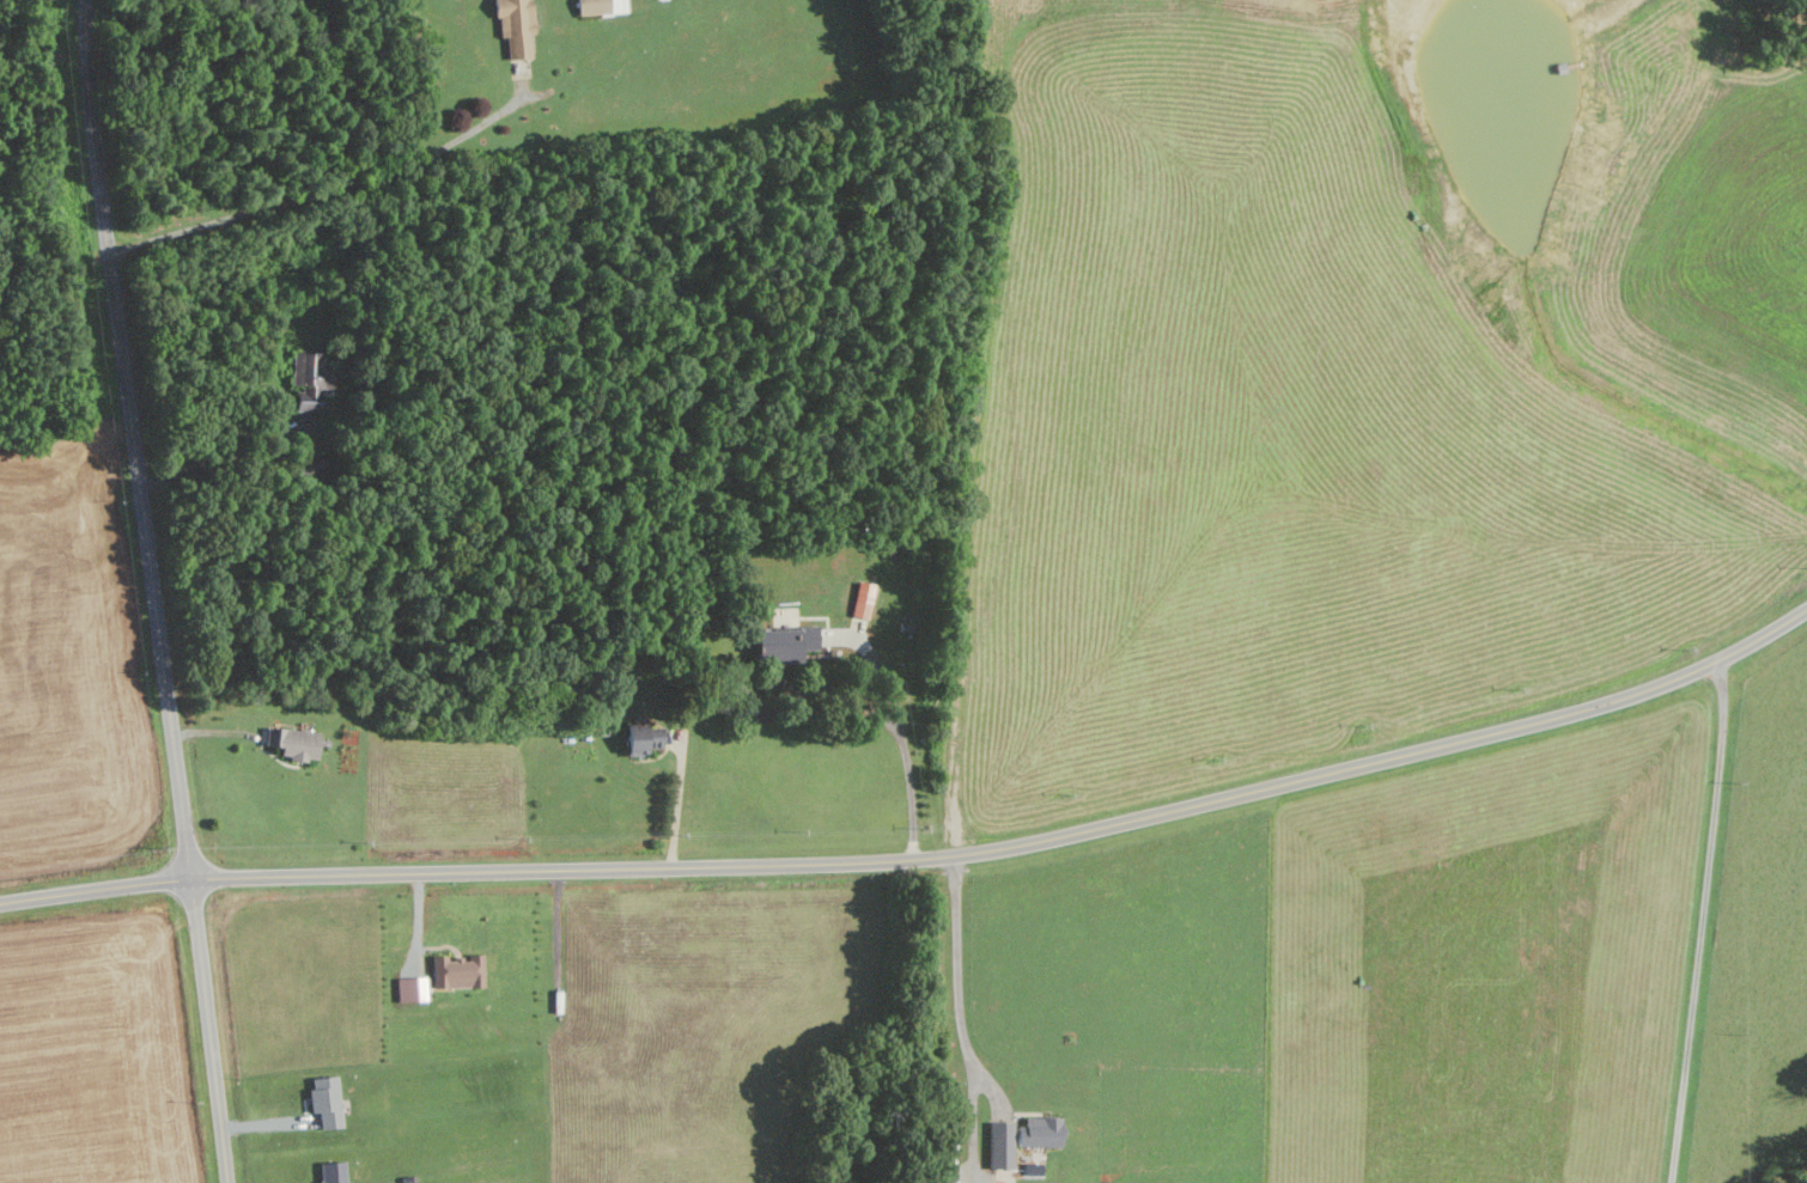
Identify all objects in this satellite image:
building: (591, 6)
building: (517, 26)
road: (322, 190)
building: (310, 380)
road: (212, 464)
road: (154, 591)
building: (864, 600)
building: (787, 644)
road: (900, 737)
building: (645, 739)
building: (297, 743)
road: (675, 805)
road: (923, 860)
road: (1703, 922)
building: (458, 971)
road: (959, 1020)
building: (327, 1100)
building: (1022, 1139)
building: (334, 1172)

